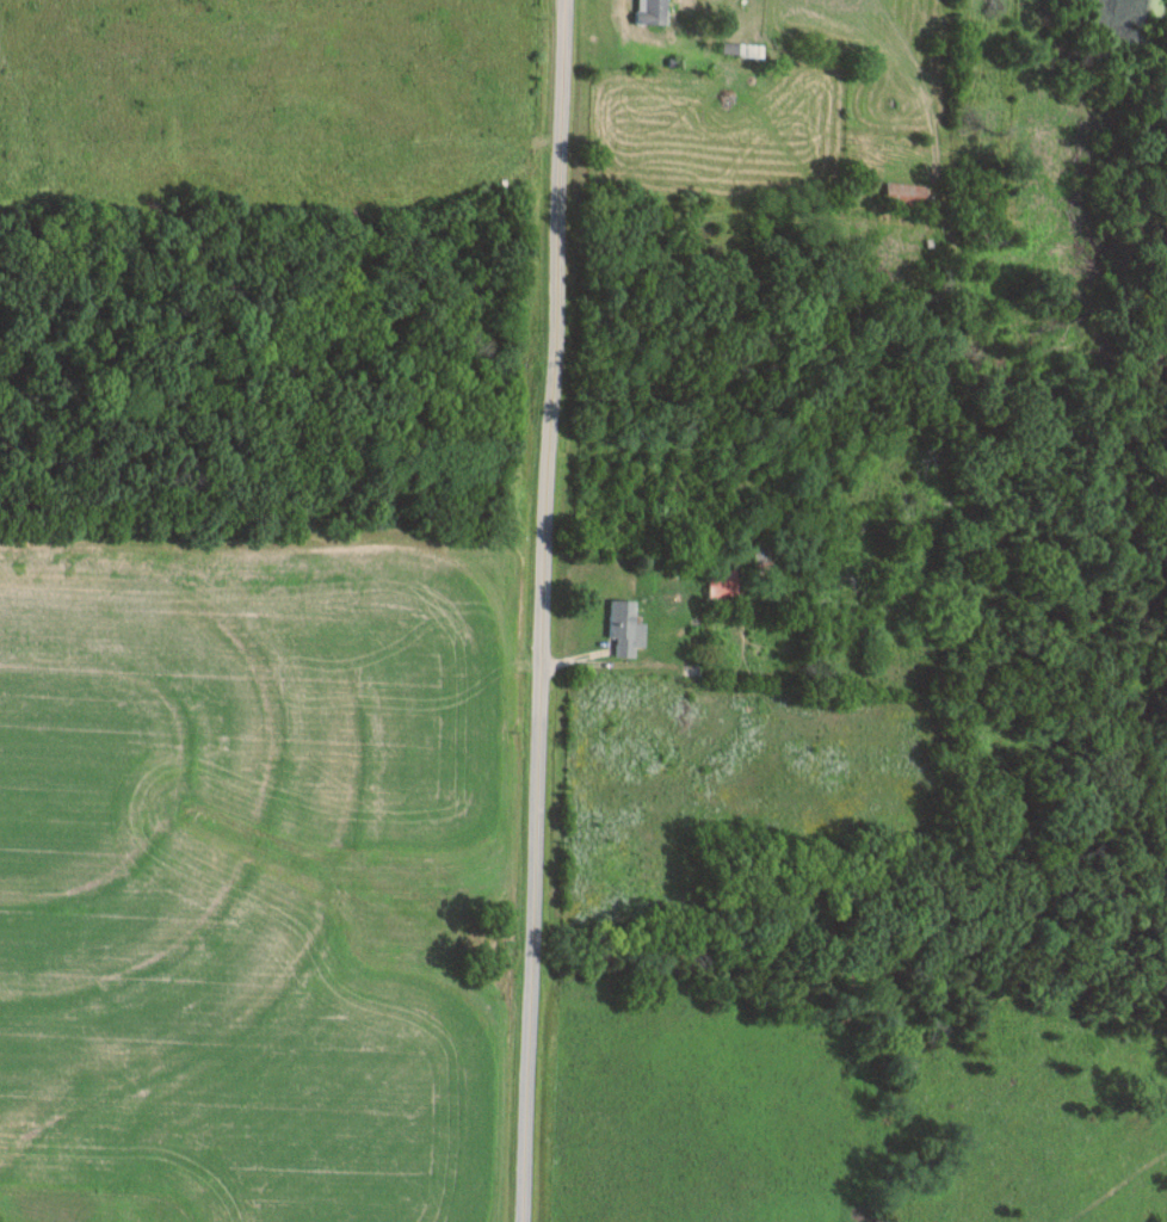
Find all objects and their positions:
building: (655, 10)
building: (906, 193)
building: (990, 236)
building: (78, 240)
building: (761, 561)
building: (723, 584)
road: (541, 610)
building: (625, 629)

